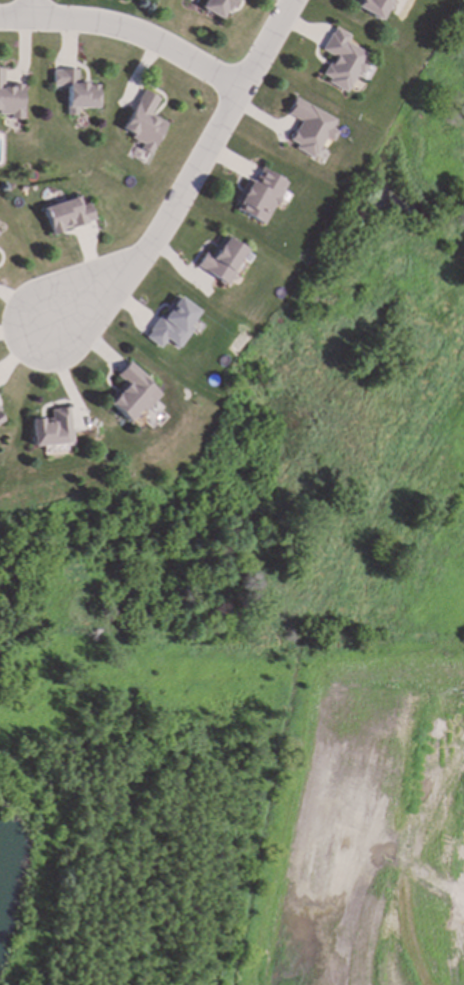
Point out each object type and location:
building: (217, 7)
building: (372, 7)
road: (34, 10)
road: (129, 31)
building: (341, 60)
building: (76, 91)
building: (10, 99)
building: (144, 122)
building: (308, 127)
road: (193, 177)
building: (259, 196)
building: (67, 215)
park: (379, 223)
building: (221, 260)
building: (171, 325)
building: (131, 393)
building: (0, 420)
building: (50, 429)
park: (275, 454)

